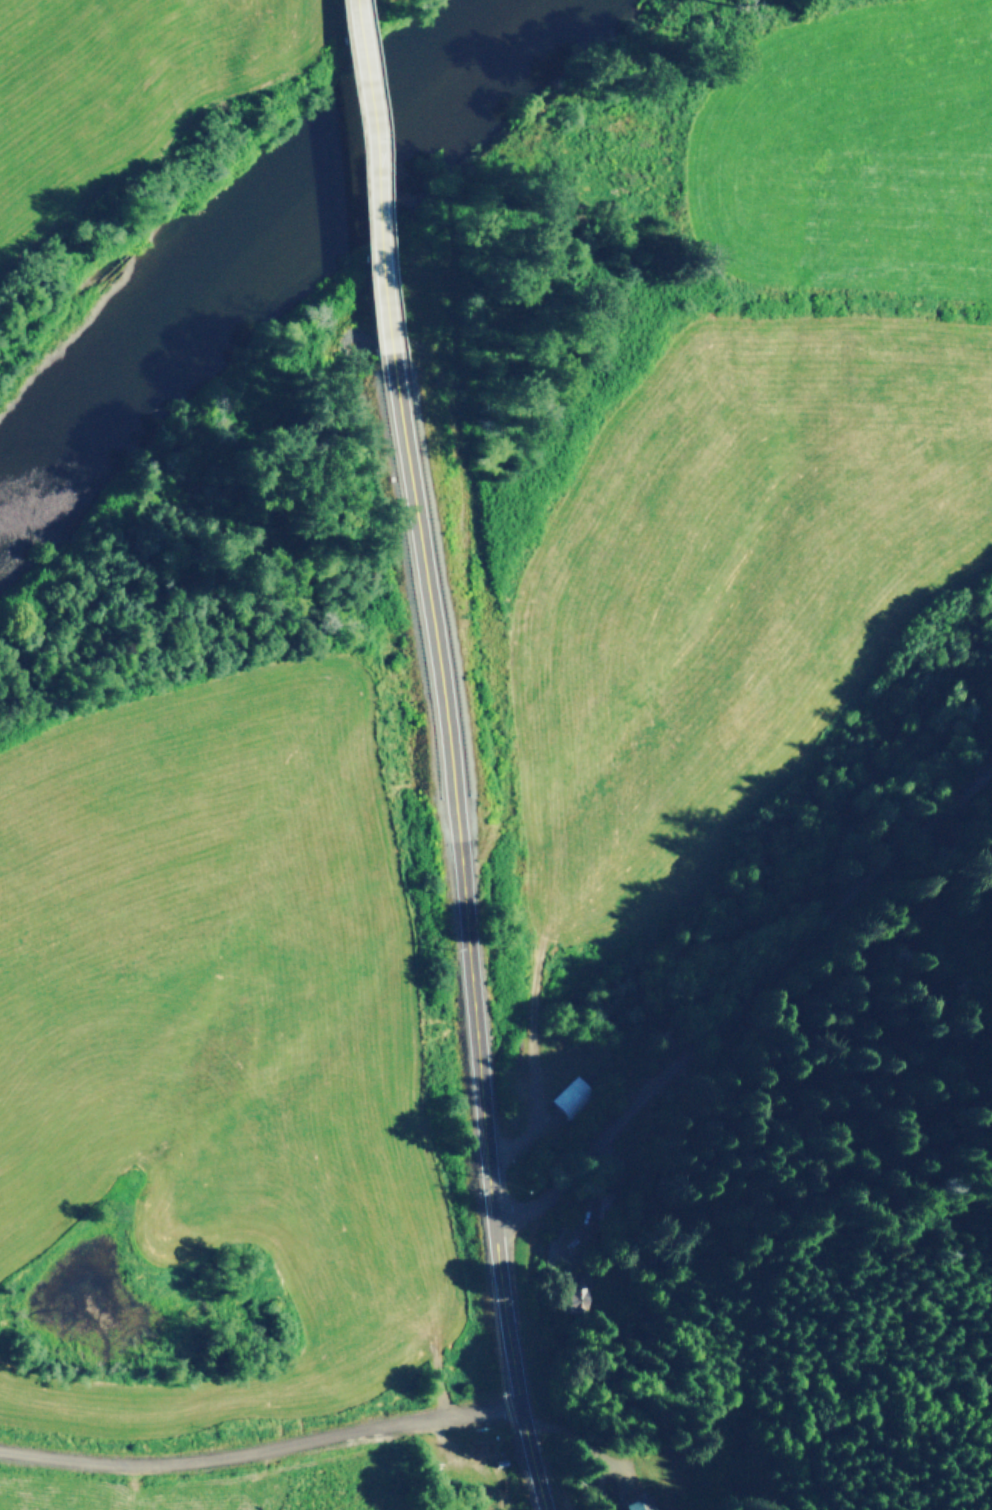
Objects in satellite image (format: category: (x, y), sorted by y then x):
crop: (122, 92)
road: (390, 137)
river: (262, 249)
crop: (484, 820)
road: (462, 894)
road: (751, 1032)
building: (567, 1094)
road: (260, 1446)

